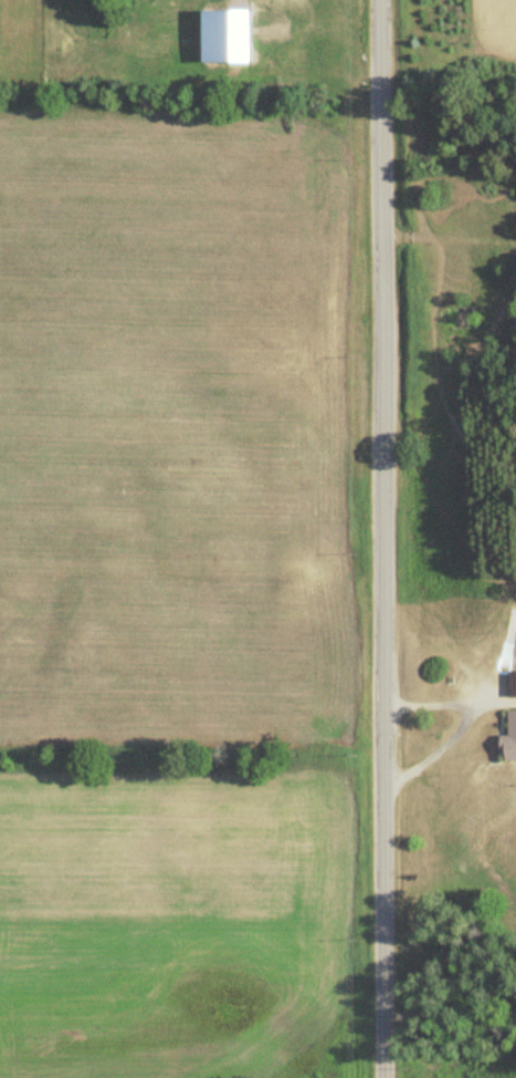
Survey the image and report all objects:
road: (382, 539)
building: (510, 684)
road: (442, 703)
building: (510, 724)
road: (433, 748)

